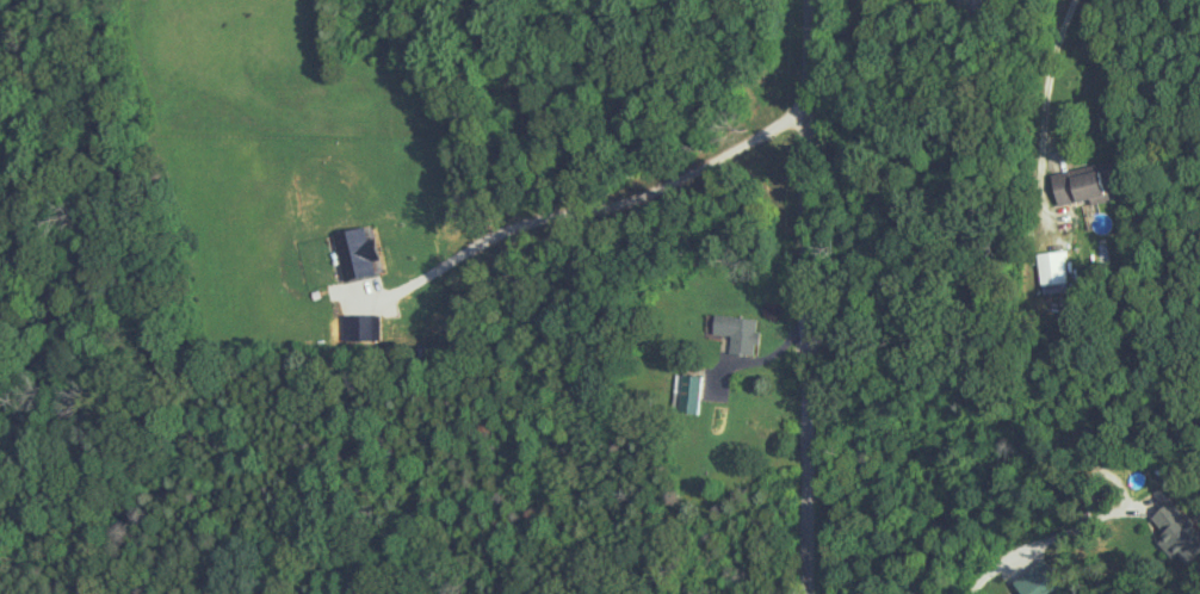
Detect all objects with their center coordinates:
building: (1082, 185)
building: (1053, 270)
road: (816, 297)
building: (736, 332)
building: (687, 392)
building: (1176, 534)
road: (1044, 540)
building: (1038, 581)

